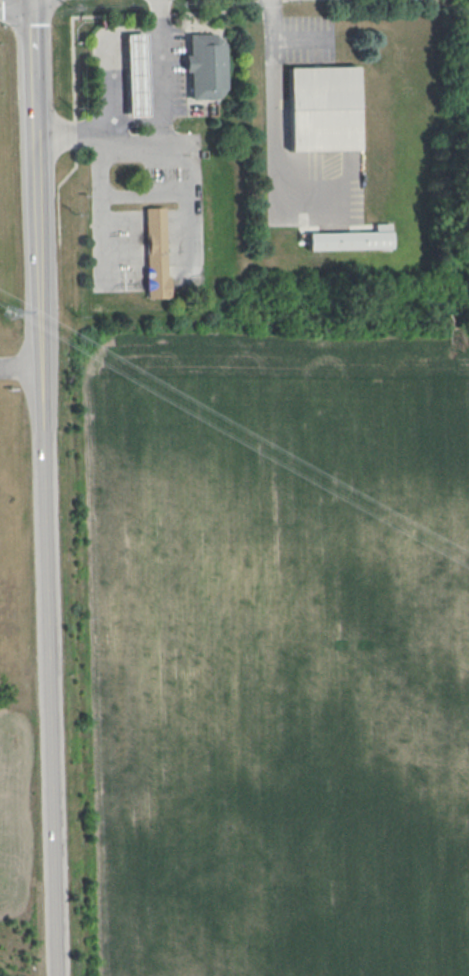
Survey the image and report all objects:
road: (30, 0)
traffic signals: (31, 1)
road: (15, 2)
road: (200, 5)
road: (157, 7)
road: (269, 17)
road: (69, 24)
road: (294, 33)
road: (31, 36)
road: (134, 64)
road: (152, 64)
building: (205, 64)
road: (118, 65)
building: (134, 72)
gas station: (134, 72)
building: (322, 108)
road: (73, 125)
road: (73, 127)
road: (163, 139)
road: (273, 143)
road: (98, 148)
road: (57, 184)
road: (36, 216)
building: (352, 239)
building: (155, 252)
power tower: (11, 313)
road: (20, 363)
road: (50, 669)

